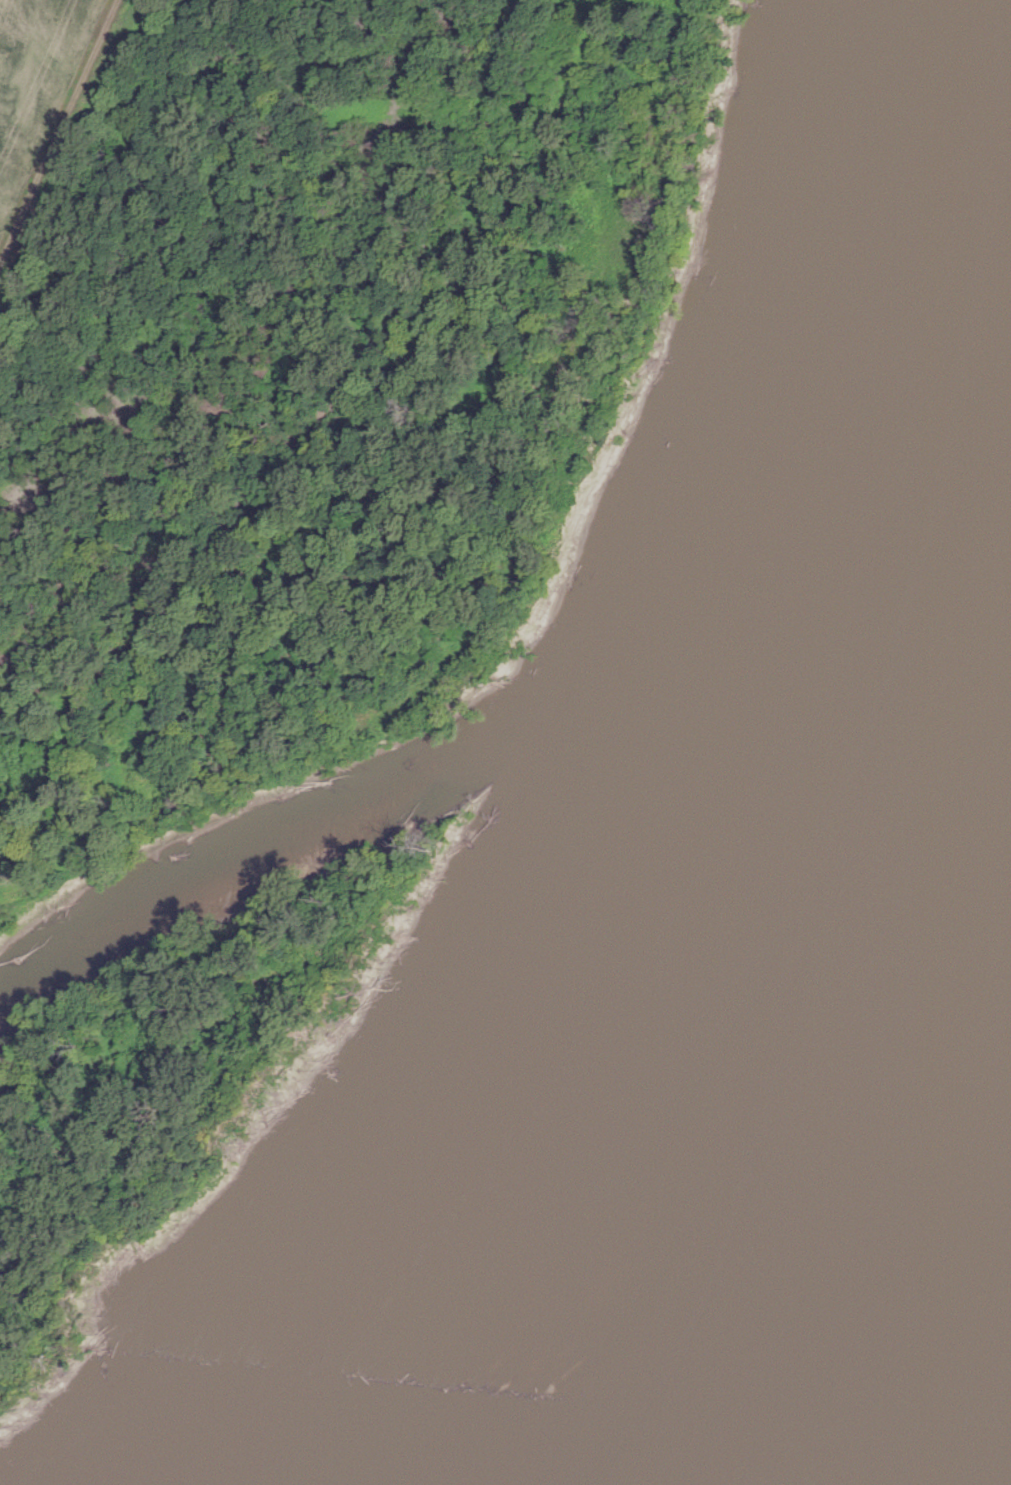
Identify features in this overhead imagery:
crop: (34, 80)
road: (57, 136)
river: (994, 1440)

